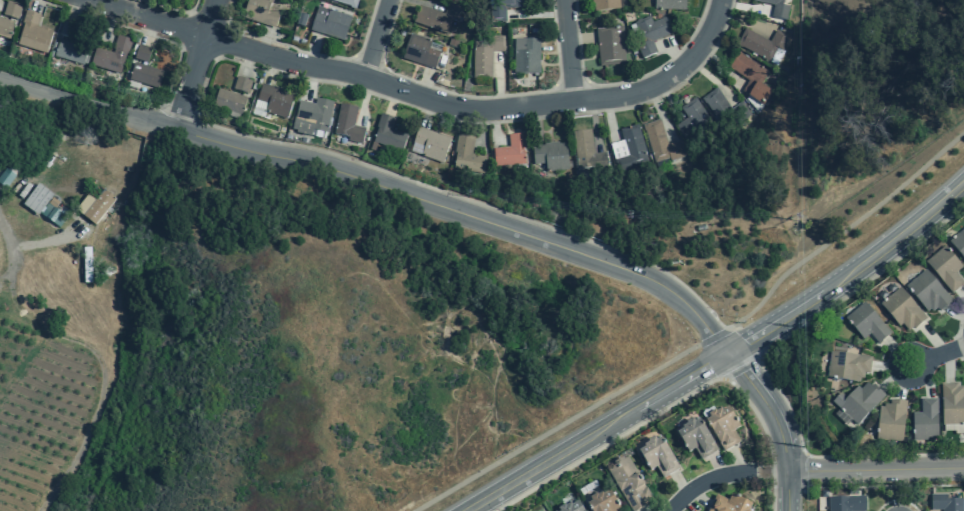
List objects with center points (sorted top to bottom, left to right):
building: (347, 2)
road: (423, 3)
road: (35, 4)
road: (116, 4)
building: (605, 4)
building: (669, 5)
road: (742, 7)
building: (776, 8)
road: (172, 9)
building: (502, 9)
building: (11, 10)
building: (260, 12)
road: (537, 14)
road: (68, 16)
building: (437, 17)
road: (740, 20)
road: (227, 21)
road: (110, 23)
building: (329, 24)
building: (5, 28)
road: (148, 30)
road: (142, 32)
building: (33, 33)
building: (650, 35)
road: (376, 38)
road: (580, 38)
road: (264, 40)
road: (555, 44)
building: (762, 45)
building: (610, 46)
road: (312, 50)
road: (568, 50)
building: (72, 52)
road: (306, 52)
building: (419, 52)
road: (672, 52)
building: (142, 53)
building: (111, 55)
building: (484, 56)
building: (526, 56)
road: (369, 59)
road: (248, 63)
road: (194, 64)
road: (720, 65)
power tower: (798, 67)
road: (329, 68)
road: (270, 69)
building: (145, 75)
building: (751, 77)
road: (666, 78)
road: (711, 78)
road: (310, 81)
road: (498, 81)
road: (624, 81)
road: (425, 84)
road: (205, 85)
building: (241, 85)
road: (565, 86)
road: (475, 96)
building: (275, 100)
road: (364, 100)
road: (392, 101)
road: (87, 102)
building: (229, 102)
building: (258, 108)
building: (724, 109)
road: (147, 112)
road: (428, 113)
building: (311, 117)
road: (609, 117)
road: (663, 117)
building: (693, 121)
road: (537, 122)
road: (594, 123)
building: (347, 124)
road: (494, 125)
road: (209, 132)
building: (388, 133)
building: (661, 141)
building: (429, 144)
building: (628, 148)
building: (510, 150)
building: (587, 151)
building: (466, 154)
building: (550, 154)
building: (6, 178)
building: (37, 200)
building: (98, 207)
road: (465, 217)
power tower: (797, 221)
road: (844, 229)
building: (958, 243)
building: (945, 269)
road: (850, 273)
building: (927, 292)
road: (961, 294)
building: (902, 310)
road: (954, 313)
road: (959, 319)
building: (866, 324)
power tower: (800, 329)
road: (713, 337)
road: (932, 339)
road: (742, 343)
road: (960, 344)
road: (898, 354)
road: (936, 355)
road: (962, 358)
road: (712, 360)
road: (760, 362)
road: (890, 366)
road: (948, 366)
road: (741, 367)
building: (847, 367)
road: (894, 375)
road: (921, 378)
road: (902, 381)
building: (857, 403)
road: (672, 404)
building: (952, 405)
road: (768, 407)
crop: (41, 410)
building: (890, 421)
building: (925, 421)
road: (556, 428)
building: (722, 428)
road: (597, 432)
building: (695, 439)
power tower: (803, 447)
building: (657, 457)
road: (737, 461)
road: (717, 466)
road: (875, 469)
road: (778, 471)
road: (804, 471)
road: (763, 472)
road: (707, 480)
building: (628, 484)
road: (680, 484)
road: (882, 486)
road: (787, 491)
road: (897, 493)
road: (698, 497)
road: (896, 500)
building: (602, 503)
building: (944, 503)
building: (728, 504)
building: (846, 504)
building: (570, 508)
road: (643, 510)

